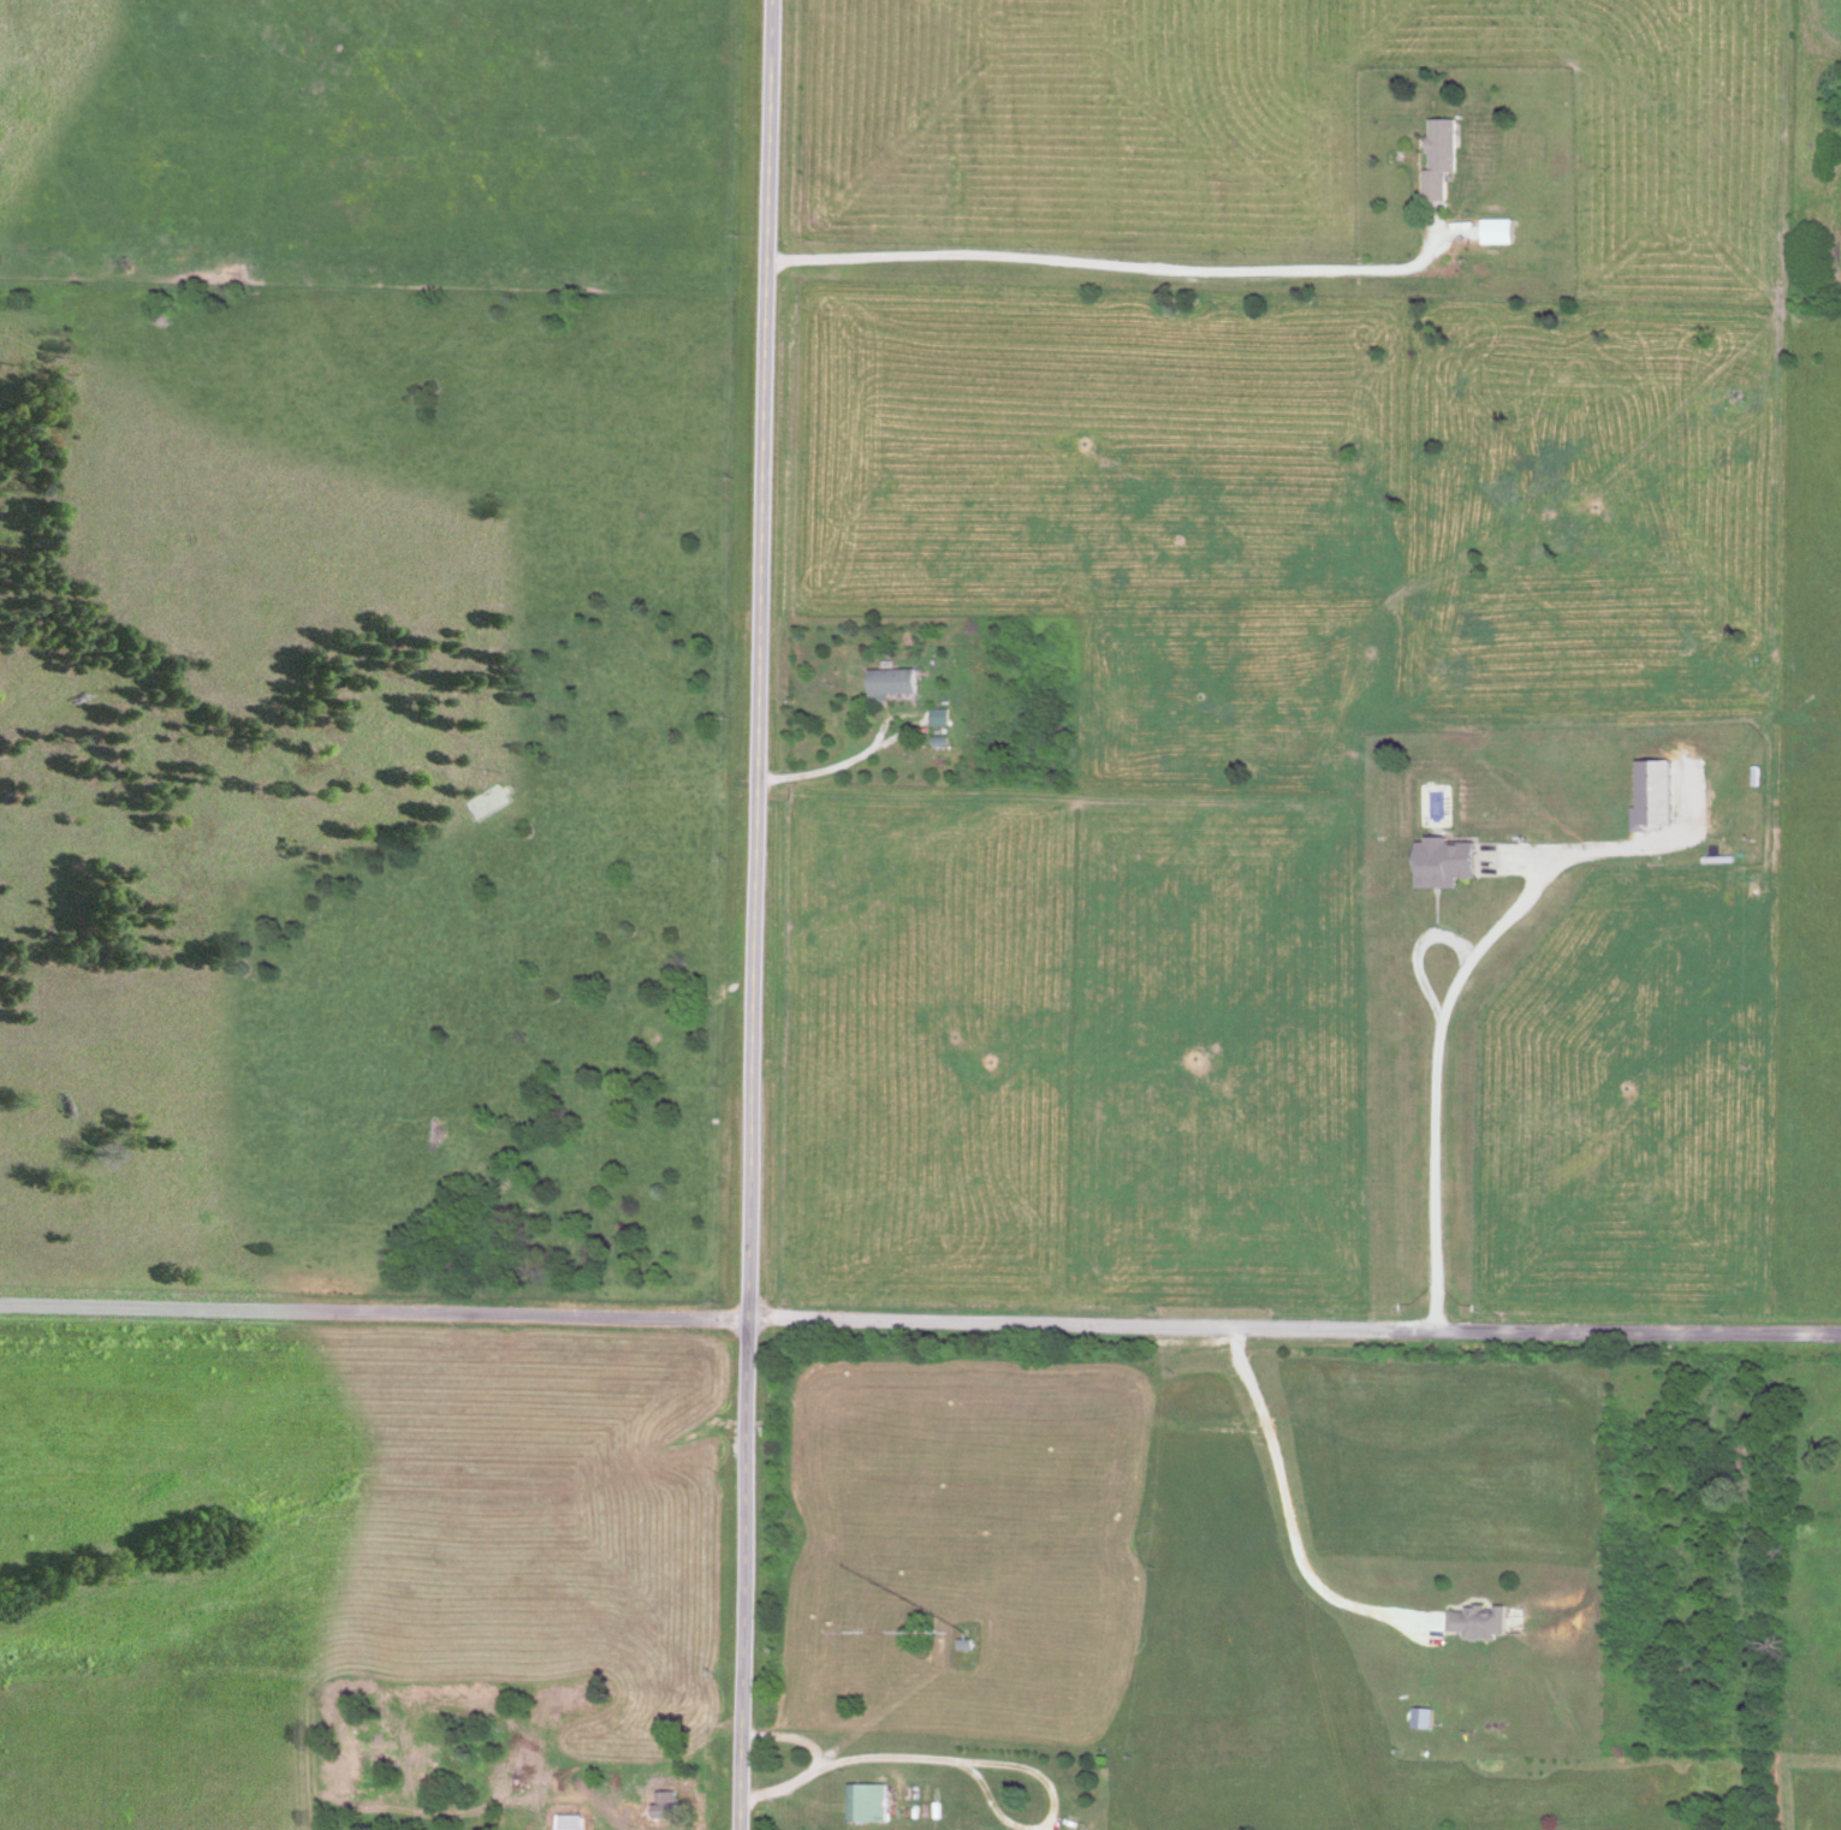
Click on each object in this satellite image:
building: (1435, 158)
building: (1493, 233)
road: (1107, 263)
building: (886, 682)
building: (937, 718)
road: (826, 779)
building: (1439, 863)
road: (754, 914)
road: (1437, 1081)
road: (920, 1324)
road: (1288, 1514)
building: (1469, 1622)
road: (789, 1737)
road: (974, 1770)
building: (862, 1804)
building: (655, 1806)
building: (565, 1822)

